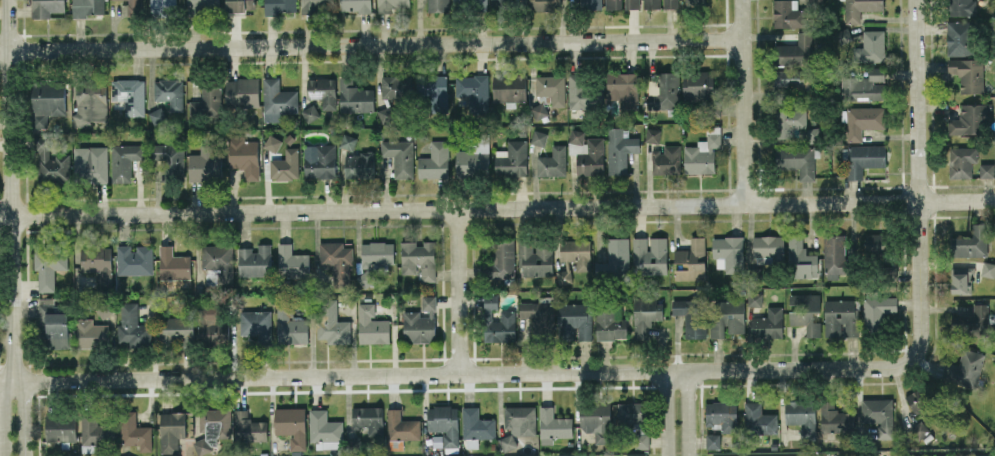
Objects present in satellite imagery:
building: (469, 2)
building: (499, 3)
building: (694, 3)
building: (202, 4)
building: (390, 4)
building: (544, 4)
building: (591, 4)
building: (621, 4)
building: (660, 4)
building: (240, 5)
building: (315, 5)
building: (355, 5)
building: (438, 5)
building: (163, 6)
building: (279, 6)
building: (46, 7)
building: (87, 7)
building: (134, 7)
building: (962, 7)
building: (859, 8)
building: (787, 14)
building: (842, 35)
building: (960, 37)
road: (370, 45)
building: (870, 46)
building: (797, 50)
building: (968, 73)
building: (796, 78)
building: (698, 85)
building: (864, 85)
building: (396, 87)
building: (508, 87)
building: (551, 88)
building: (623, 89)
building: (473, 90)
building: (581, 90)
building: (242, 91)
building: (322, 91)
building: (169, 92)
building: (436, 92)
building: (666, 92)
building: (129, 94)
building: (354, 96)
building: (277, 99)
building: (207, 100)
building: (46, 102)
building: (90, 102)
road: (742, 102)
building: (539, 110)
building: (310, 112)
building: (386, 114)
building: (156, 115)
building: (970, 119)
building: (862, 120)
building: (789, 121)
building: (576, 135)
building: (652, 135)
building: (538, 137)
building: (348, 141)
building: (272, 142)
building: (619, 149)
building: (702, 152)
building: (473, 155)
building: (244, 156)
building: (399, 156)
building: (591, 157)
building: (511, 158)
building: (863, 158)
building: (666, 159)
building: (798, 159)
building: (124, 160)
building: (319, 160)
building: (49, 161)
building: (168, 161)
building: (434, 161)
building: (552, 161)
building: (962, 161)
building: (91, 163)
building: (205, 164)
building: (359, 164)
building: (285, 165)
road: (920, 170)
building: (986, 170)
road: (12, 190)
road: (497, 208)
building: (877, 242)
building: (971, 242)
building: (768, 248)
building: (728, 252)
building: (576, 253)
building: (618, 253)
building: (650, 254)
building: (834, 255)
building: (502, 258)
building: (535, 258)
building: (419, 259)
building: (801, 259)
building: (134, 260)
building: (218, 260)
building: (691, 260)
building: (254, 261)
building: (292, 261)
building: (337, 261)
building: (97, 264)
building: (173, 265)
building: (49, 267)
building: (988, 269)
building: (564, 276)
building: (962, 280)
road: (457, 291)
building: (755, 298)
building: (491, 301)
building: (877, 310)
building: (805, 312)
building: (645, 315)
building: (539, 316)
building: (693, 316)
building: (727, 317)
building: (973, 318)
building: (574, 321)
building: (421, 322)
building: (610, 322)
building: (332, 323)
building: (768, 323)
building: (52, 324)
building: (212, 325)
building: (257, 325)
building: (290, 325)
building: (371, 326)
building: (132, 327)
building: (501, 328)
building: (176, 331)
building: (91, 334)
building: (965, 368)
road: (466, 373)
building: (917, 400)
road: (668, 413)
road: (686, 413)
building: (722, 415)
building: (879, 415)
road: (3, 416)
building: (802, 417)
road: (21, 418)
building: (835, 418)
building: (368, 419)
building: (759, 419)
building: (597, 421)
building: (635, 422)
building: (477, 424)
building: (517, 424)
building: (443, 425)
building: (292, 426)
building: (249, 427)
building: (60, 428)
building: (400, 429)
building: (919, 429)
building: (95, 430)
building: (325, 430)
building: (134, 431)
building: (171, 431)
building: (713, 441)
building: (471, 443)
building: (795, 455)
building: (958, 455)

